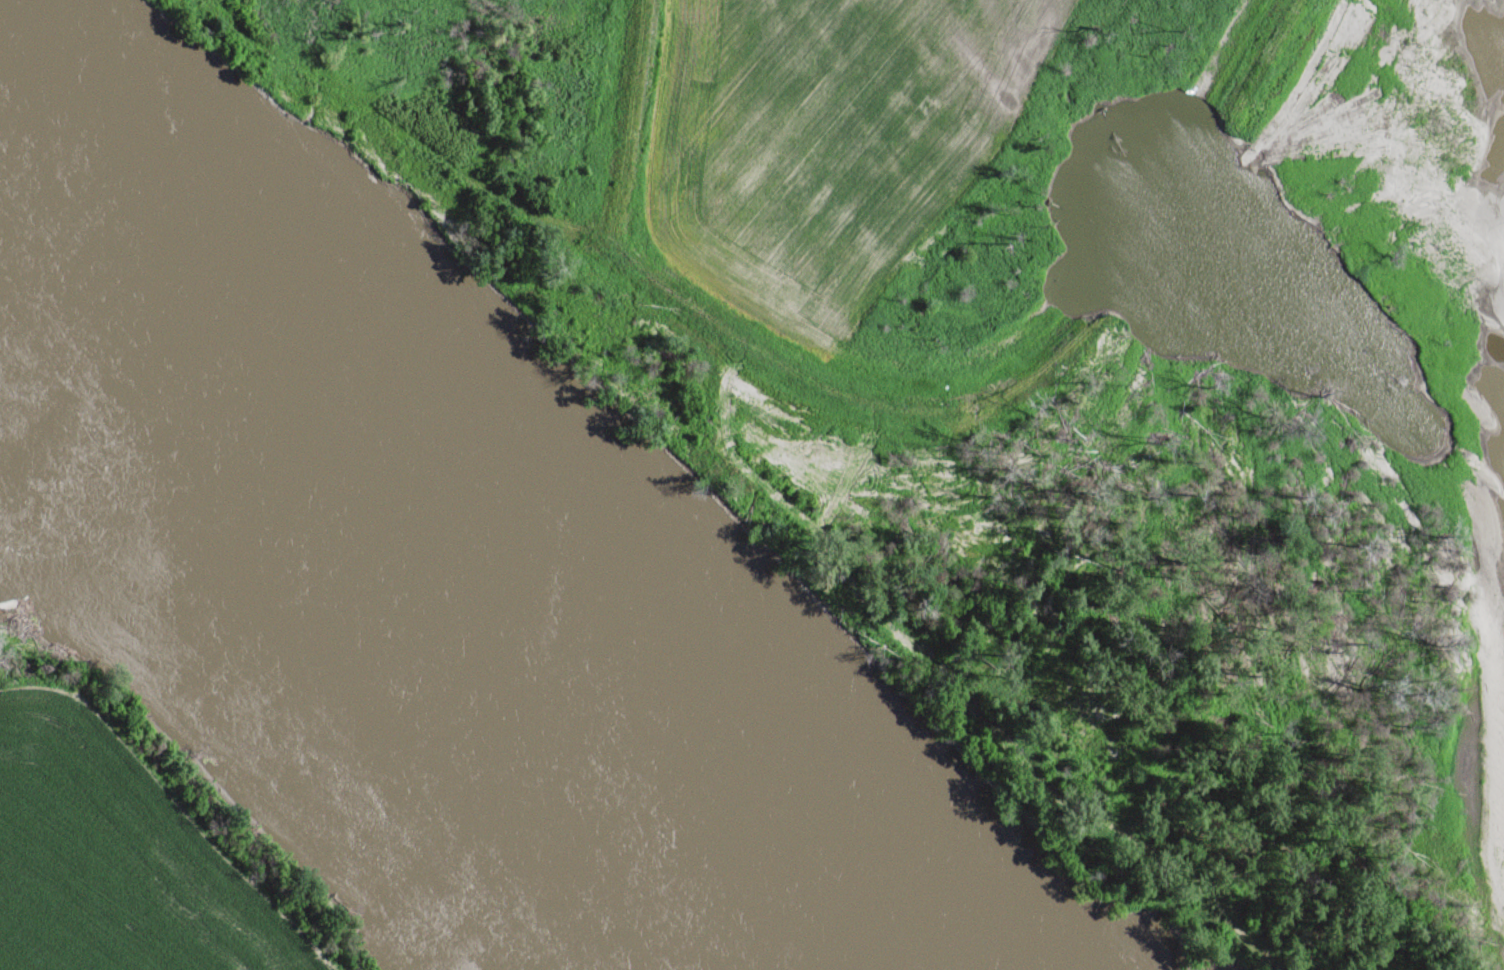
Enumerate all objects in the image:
river: (430, 595)

